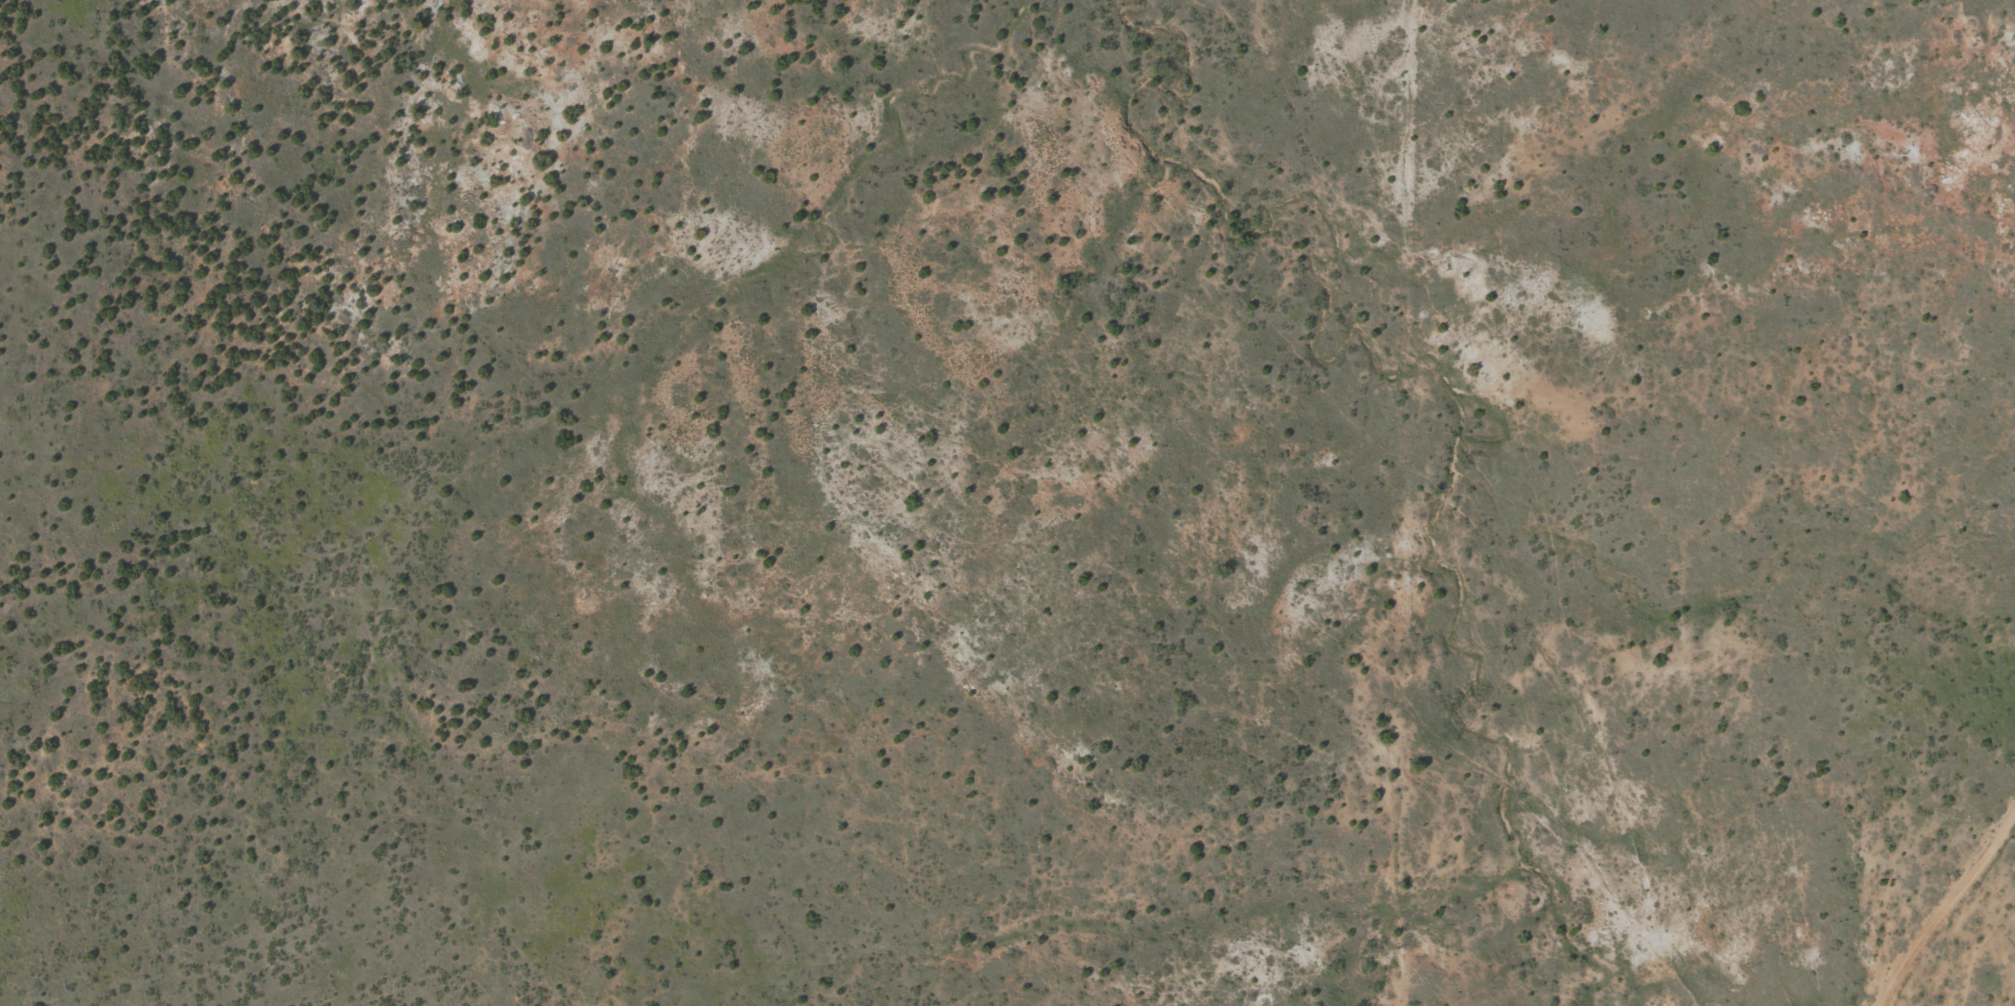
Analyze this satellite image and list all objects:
road: (1957, 931)

